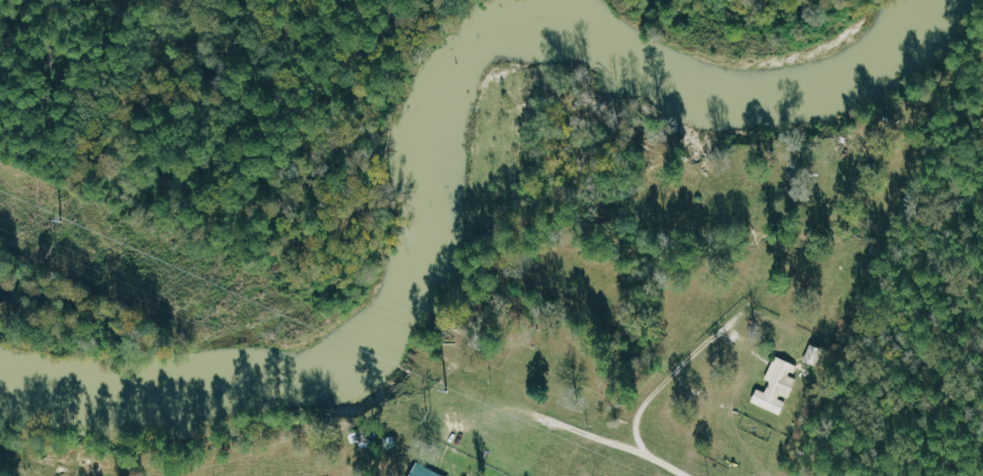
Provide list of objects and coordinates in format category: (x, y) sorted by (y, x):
river: (485, 129)
power tower: (54, 250)
road: (672, 379)
building: (778, 385)
power tower: (428, 415)
road: (601, 435)
building: (427, 471)

